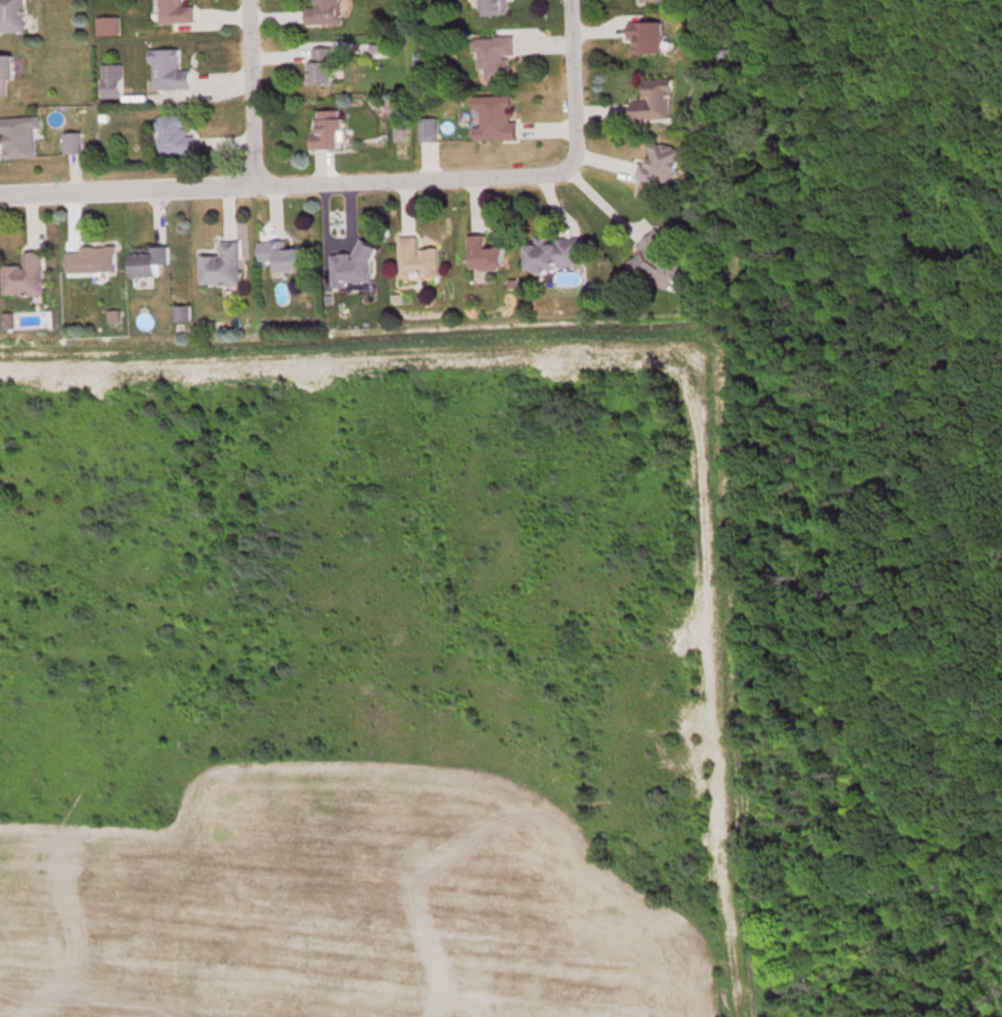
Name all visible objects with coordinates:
building: (493, 6)
building: (173, 11)
building: (322, 12)
building: (12, 15)
building: (107, 24)
building: (645, 34)
building: (494, 55)
building: (319, 64)
building: (168, 69)
building: (5, 71)
building: (110, 79)
road: (570, 83)
road: (249, 92)
building: (653, 98)
building: (494, 116)
building: (327, 128)
building: (174, 133)
building: (18, 134)
building: (71, 141)
building: (659, 162)
road: (282, 183)
building: (554, 252)
building: (483, 253)
building: (286, 256)
building: (416, 257)
building: (90, 259)
building: (656, 260)
building: (147, 262)
building: (221, 264)
building: (352, 266)
building: (24, 275)

